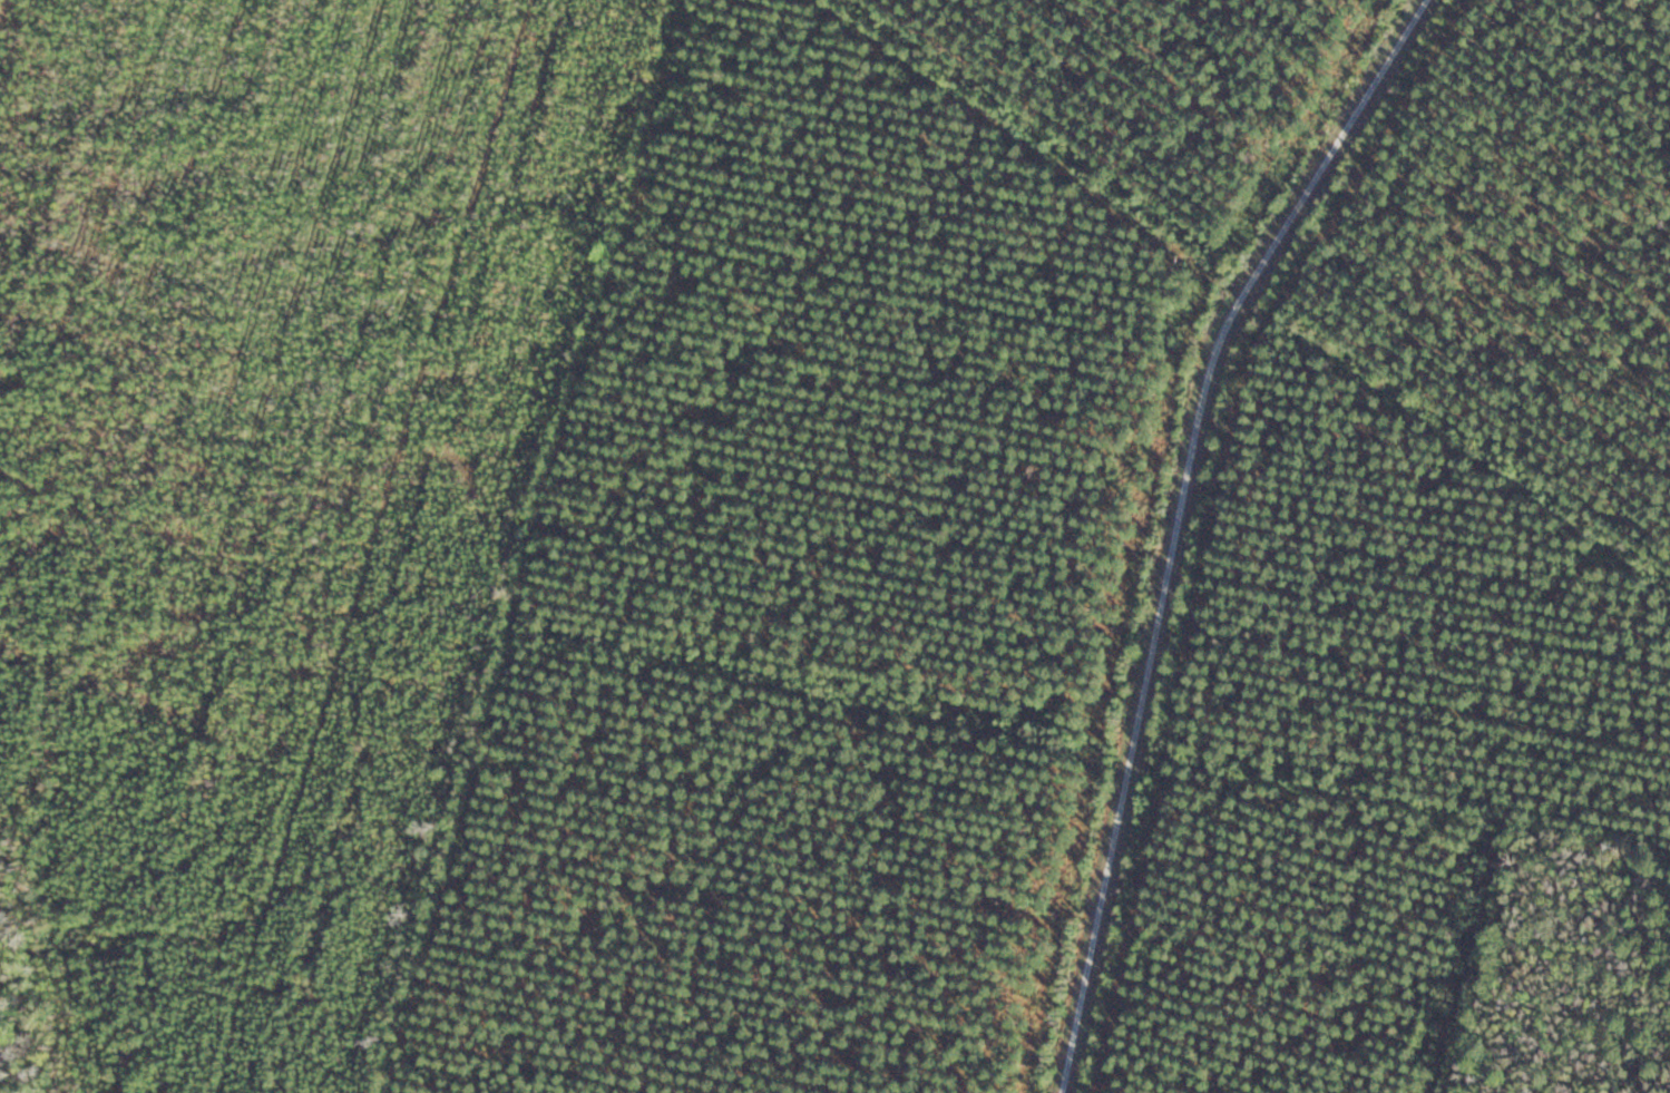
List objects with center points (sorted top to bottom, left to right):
road: (1180, 521)

